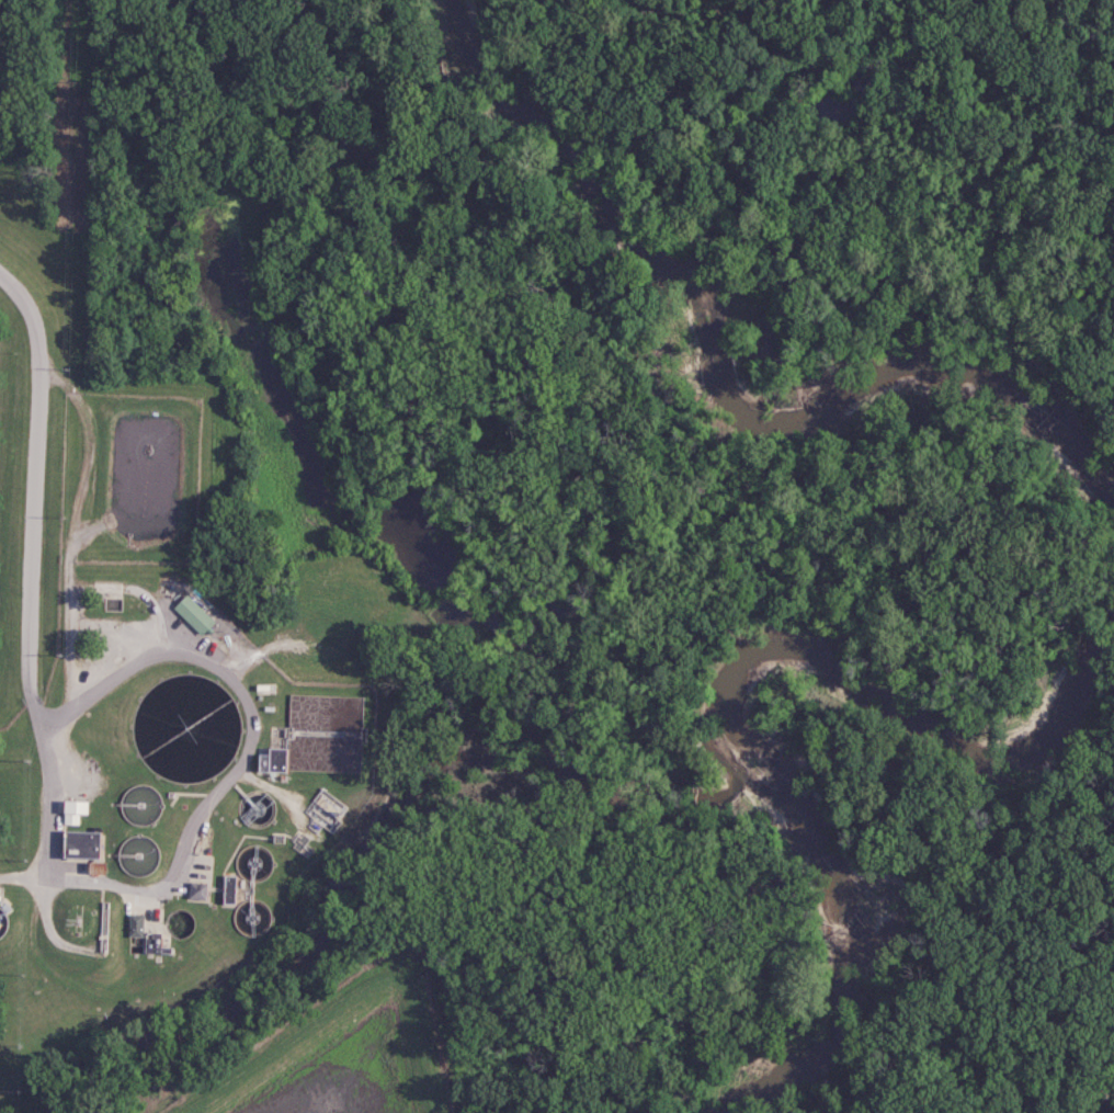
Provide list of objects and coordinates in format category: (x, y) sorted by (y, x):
road: (69, 388)
road: (34, 488)
road: (138, 589)
wastewater plant: (192, 598)
road: (65, 607)
building: (192, 614)
road: (197, 806)
building: (72, 811)
building: (82, 849)
building: (195, 891)
building: (134, 924)

